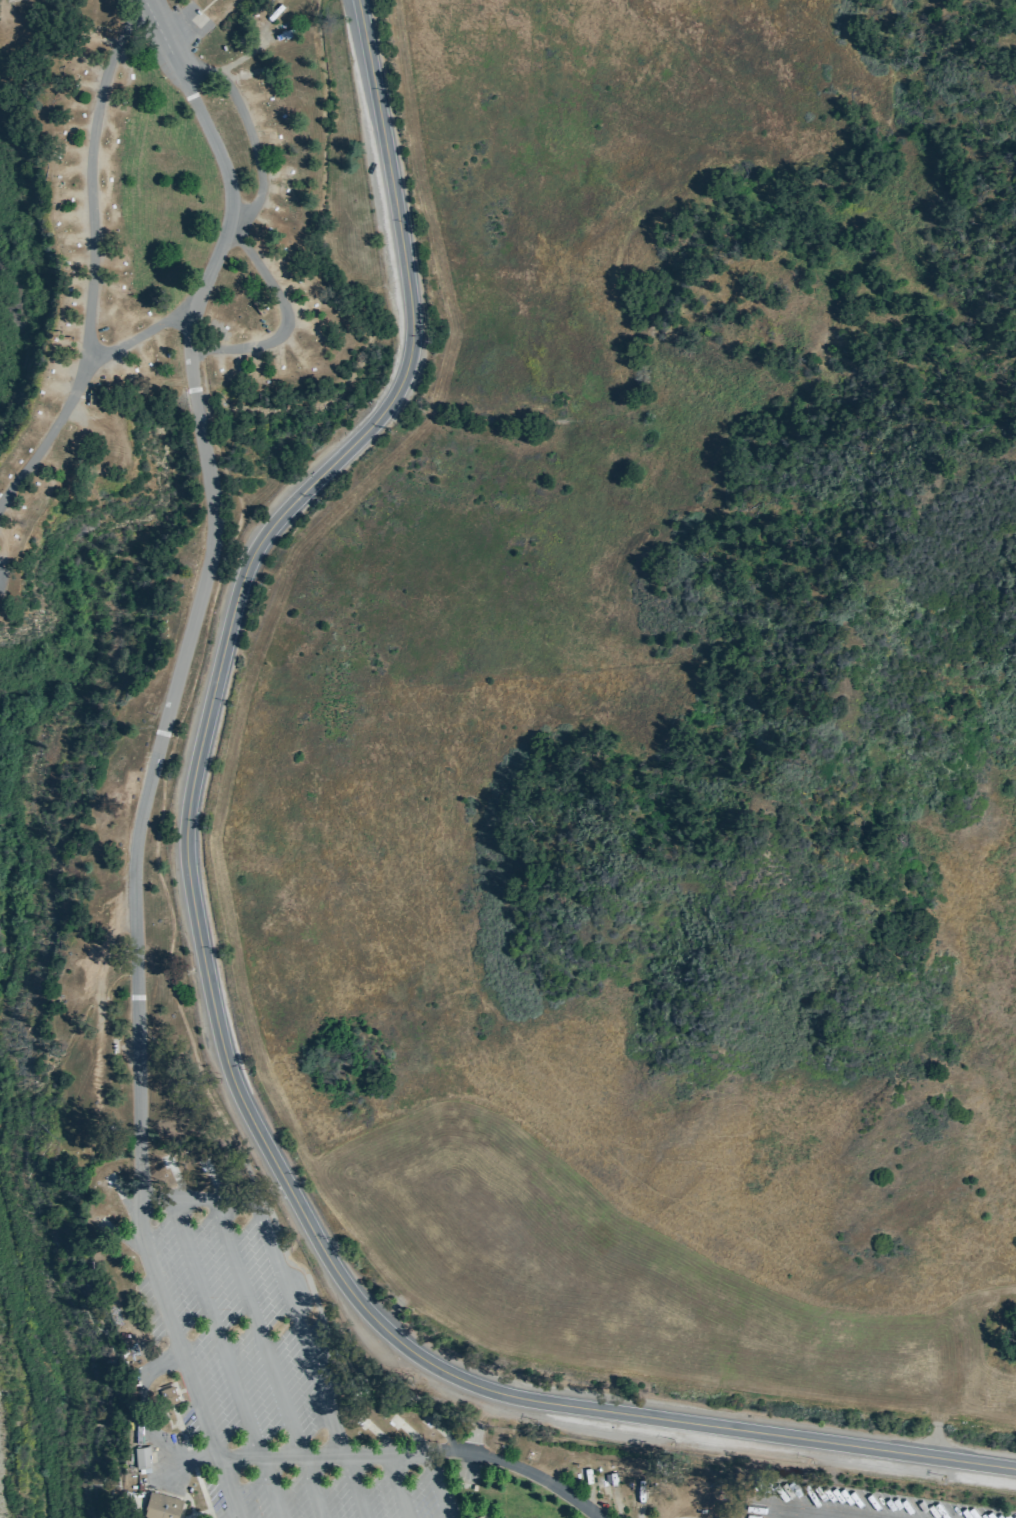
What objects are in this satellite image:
road: (360, 8)
road: (168, 35)
building: (81, 85)
road: (238, 212)
road: (95, 257)
road: (148, 321)
road: (262, 338)
road: (654, 363)
road: (412, 364)
park: (106, 725)
road: (156, 757)
road: (154, 862)
road: (199, 1204)
road: (368, 1310)
road: (261, 1330)
road: (216, 1332)
road: (302, 1335)
road: (180, 1357)
road: (344, 1360)
parking lot: (261, 1371)
road: (185, 1390)
building: (167, 1396)
road: (147, 1419)
road: (479, 1421)
road: (184, 1441)
road: (445, 1452)
building: (141, 1456)
road: (316, 1456)
road: (540, 1478)
road: (433, 1485)
road: (395, 1486)
road: (312, 1487)
road: (358, 1487)
road: (269, 1488)
parking lot: (849, 1502)
building: (160, 1506)
road: (198, 1514)
building: (481, 1516)
road: (485, 1516)

